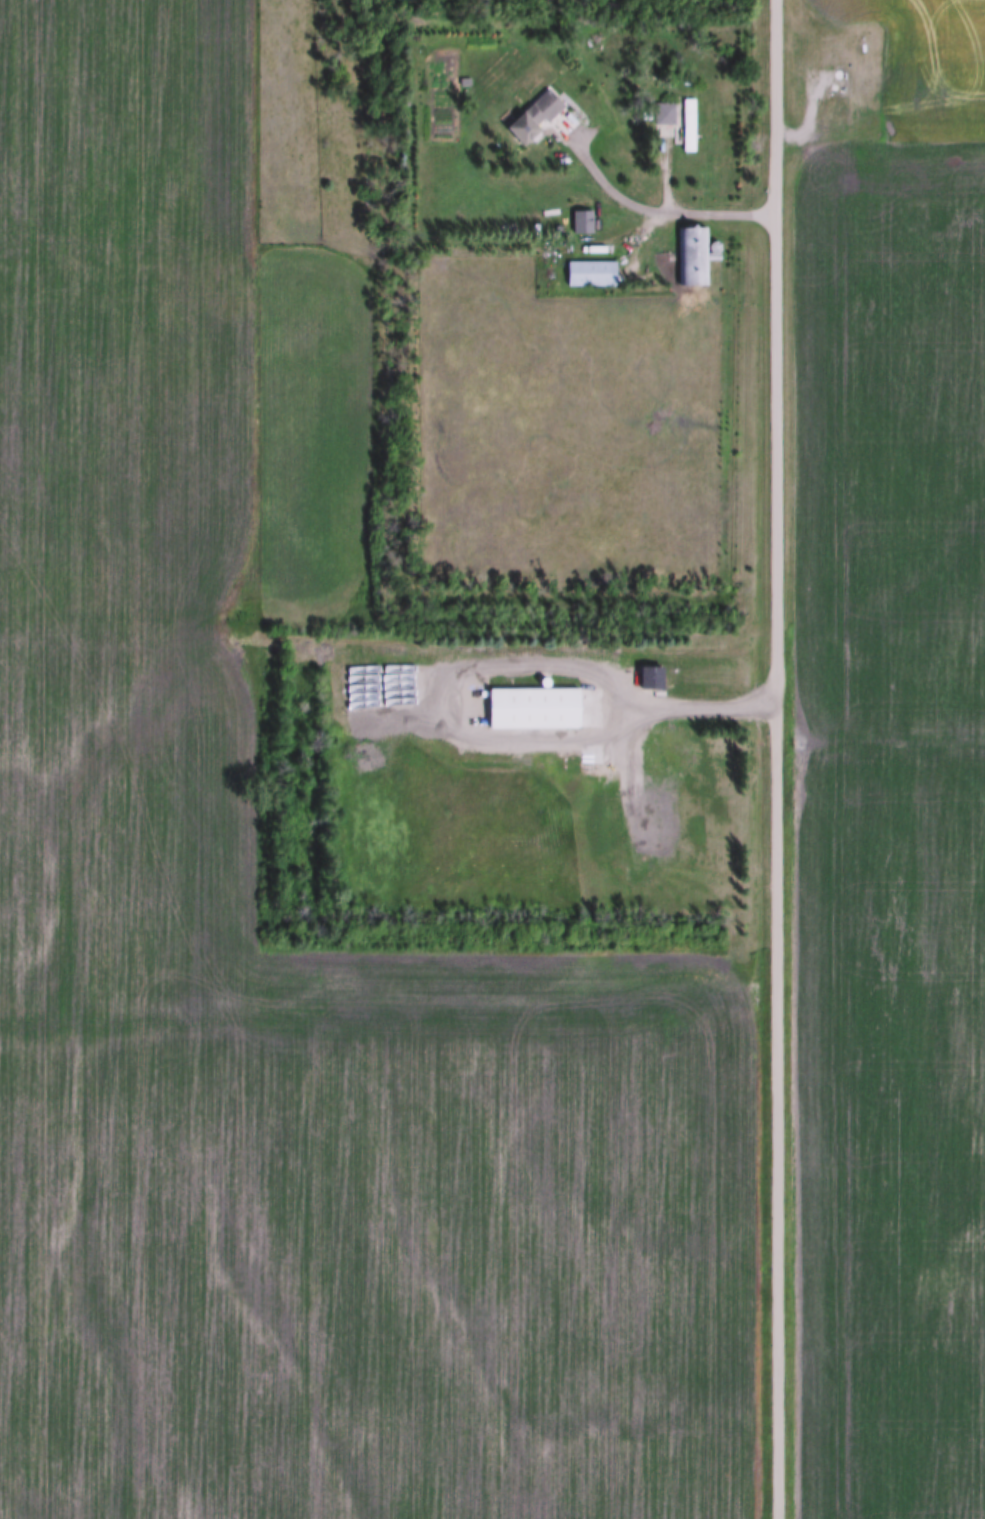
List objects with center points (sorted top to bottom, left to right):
crop: (911, 69)
road: (649, 213)
road: (534, 251)
crop: (162, 333)
road: (645, 711)
road: (776, 759)
crop: (892, 833)
crop: (336, 1163)

